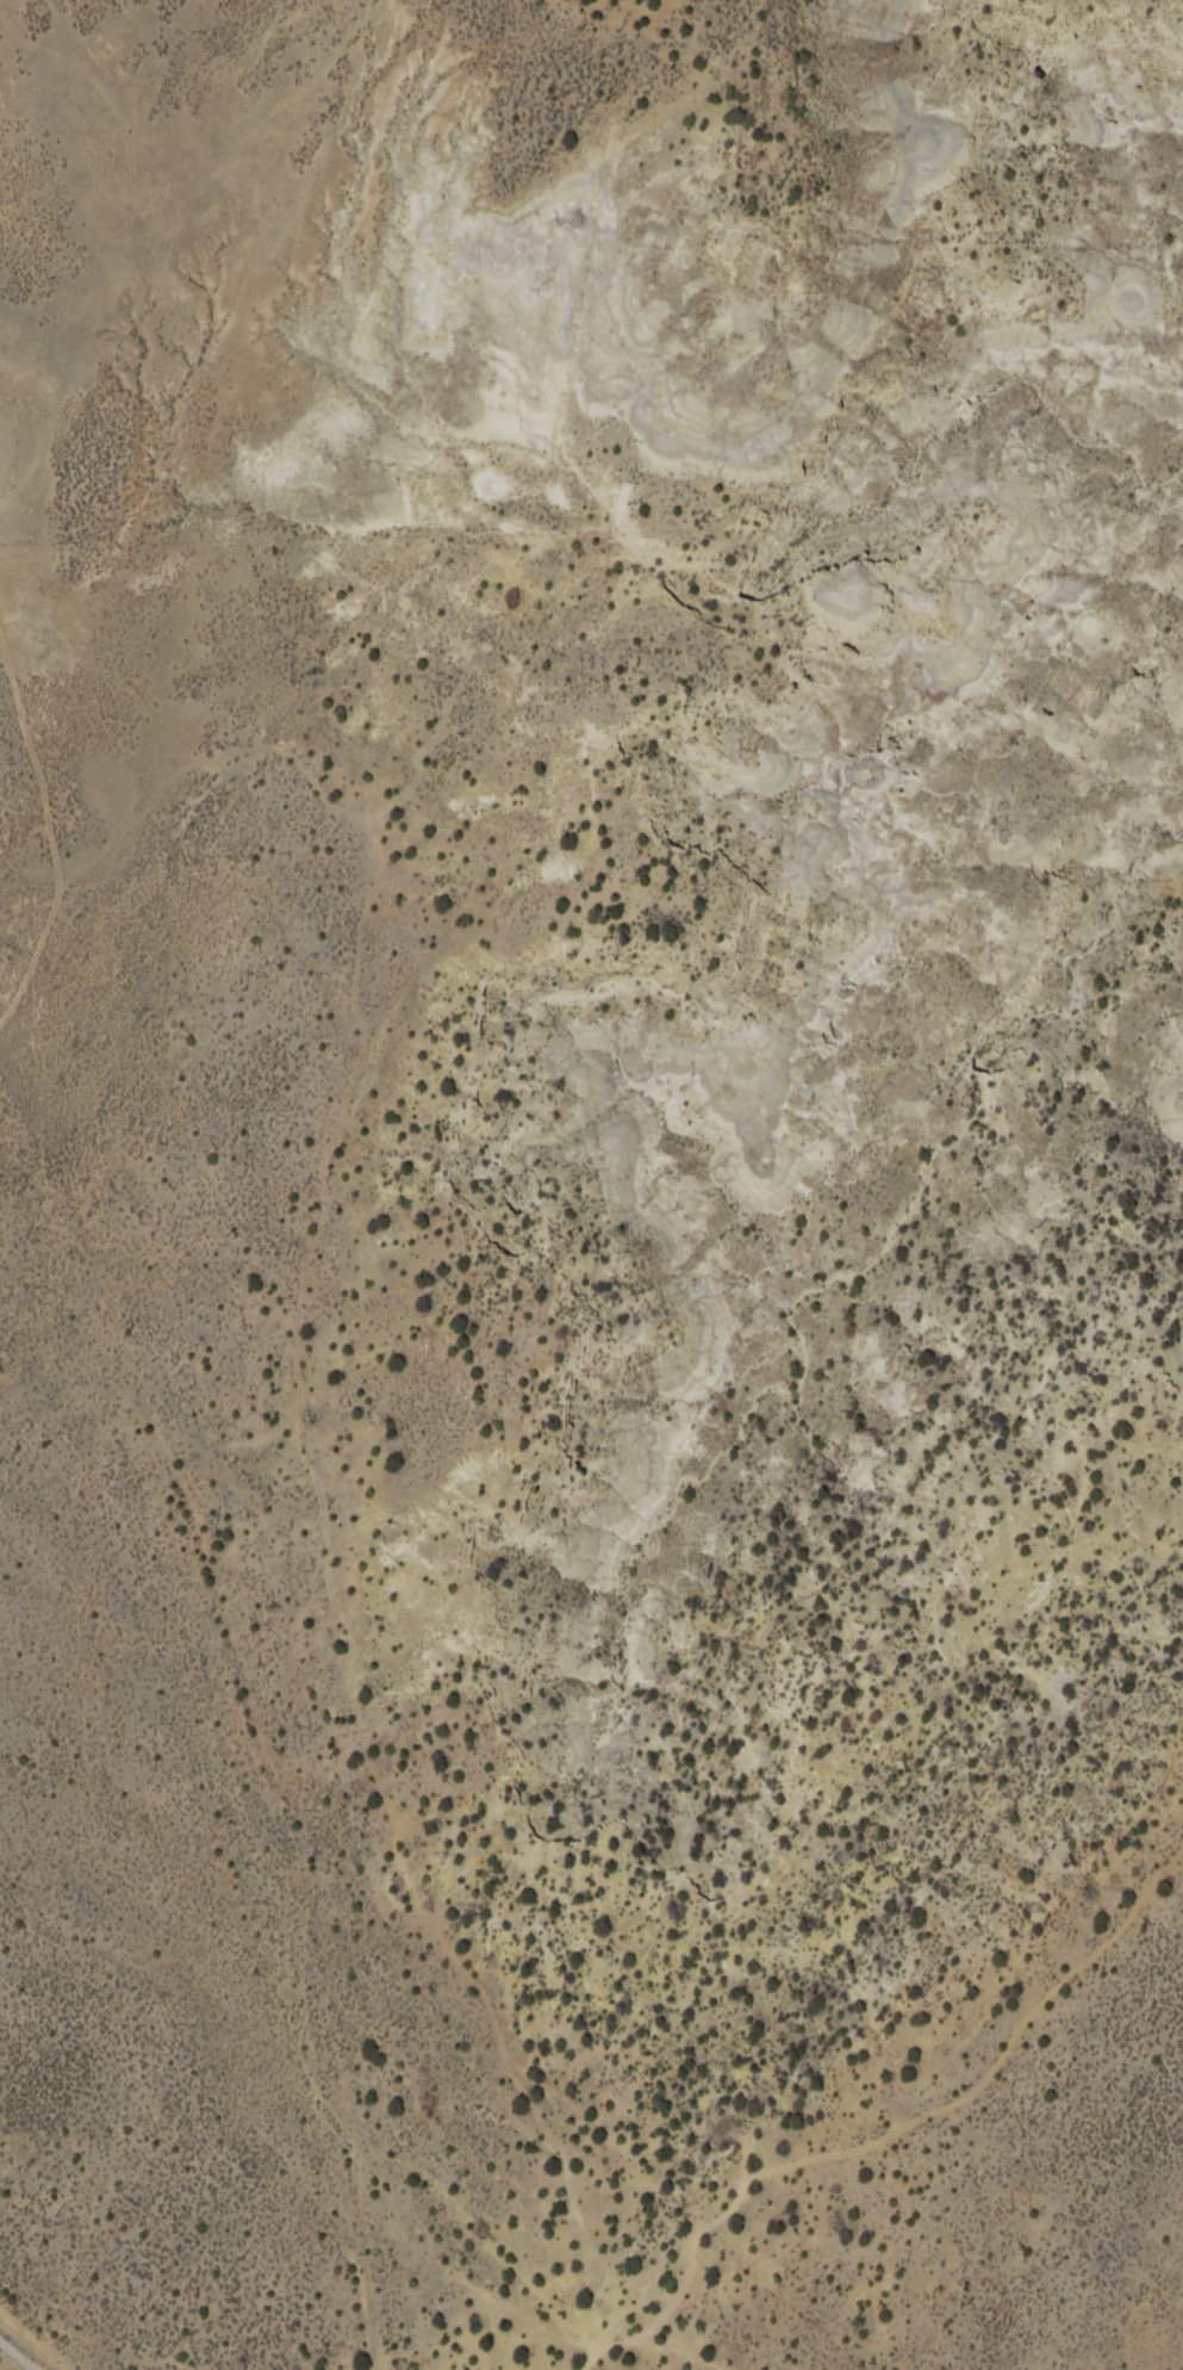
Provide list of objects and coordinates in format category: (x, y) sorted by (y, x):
road: (894, 2108)
road: (1, 2368)

